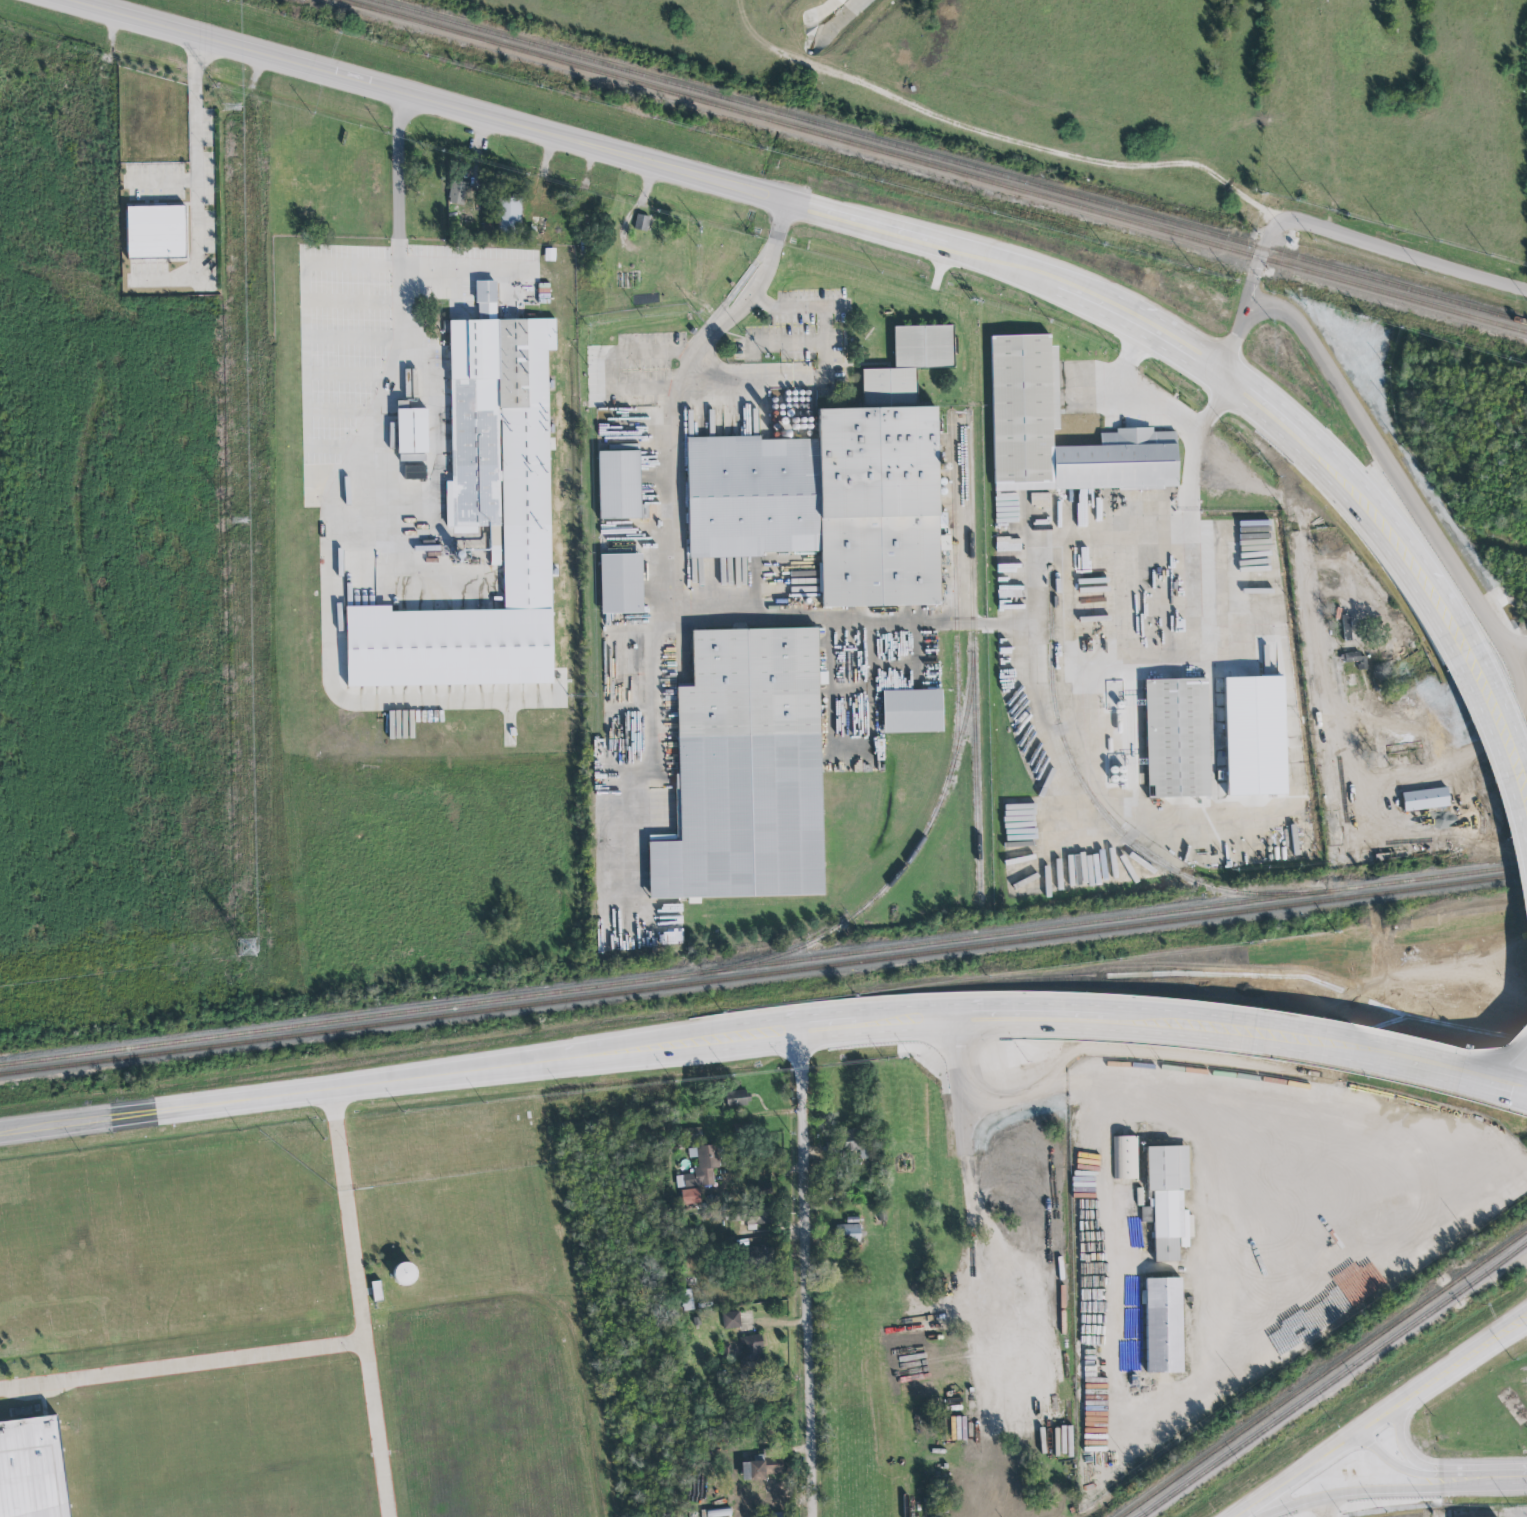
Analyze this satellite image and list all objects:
power tower: (230, 107)
railway: (721, 107)
road: (1333, 118)
railway: (951, 162)
road: (692, 175)
road: (195, 189)
building: (457, 191)
building: (509, 215)
building: (641, 221)
road: (1321, 228)
building: (485, 230)
building: (157, 232)
building: (509, 253)
railway: (1316, 272)
road: (338, 283)
road: (371, 283)
road: (302, 286)
road: (407, 301)
road: (823, 314)
building: (923, 345)
building: (1024, 386)
road: (1134, 395)
road: (675, 398)
building: (413, 431)
road: (1387, 468)
building: (415, 473)
building: (618, 484)
building: (750, 495)
building: (879, 495)
power tower: (233, 520)
building: (482, 520)
road: (1190, 524)
road: (1159, 529)
building: (621, 583)
road: (1133, 584)
railway: (952, 594)
road: (1441, 607)
building: (1347, 629)
building: (1355, 658)
road: (1165, 661)
building: (913, 710)
building: (1255, 733)
building: (1176, 735)
railway: (950, 759)
building: (746, 767)
railway: (1080, 785)
building: (1425, 798)
power tower: (247, 947)
railway: (763, 966)
railway: (763, 974)
road: (1240, 1032)
road: (474, 1071)
road: (958, 1091)
building: (737, 1097)
road: (1101, 1126)
building: (691, 1133)
building: (844, 1141)
building: (1126, 1157)
building: (703, 1166)
building: (762, 1188)
building: (691, 1196)
building: (1166, 1200)
road: (348, 1212)
building: (749, 1215)
building: (848, 1233)
building: (756, 1257)
building: (405, 1273)
road: (801, 1273)
building: (377, 1291)
building: (1362, 1296)
building: (687, 1299)
road: (1514, 1314)
building: (730, 1319)
building: (1163, 1324)
building: (751, 1350)
road: (183, 1365)
railway: (1319, 1373)
road: (1387, 1418)
road: (1359, 1419)
road: (376, 1425)
road: (1407, 1445)
building: (761, 1466)
road: (1382, 1467)
building: (29, 1469)
road: (1491, 1477)
road: (1330, 1482)
road: (1362, 1493)
building: (775, 1495)
building: (718, 1512)

